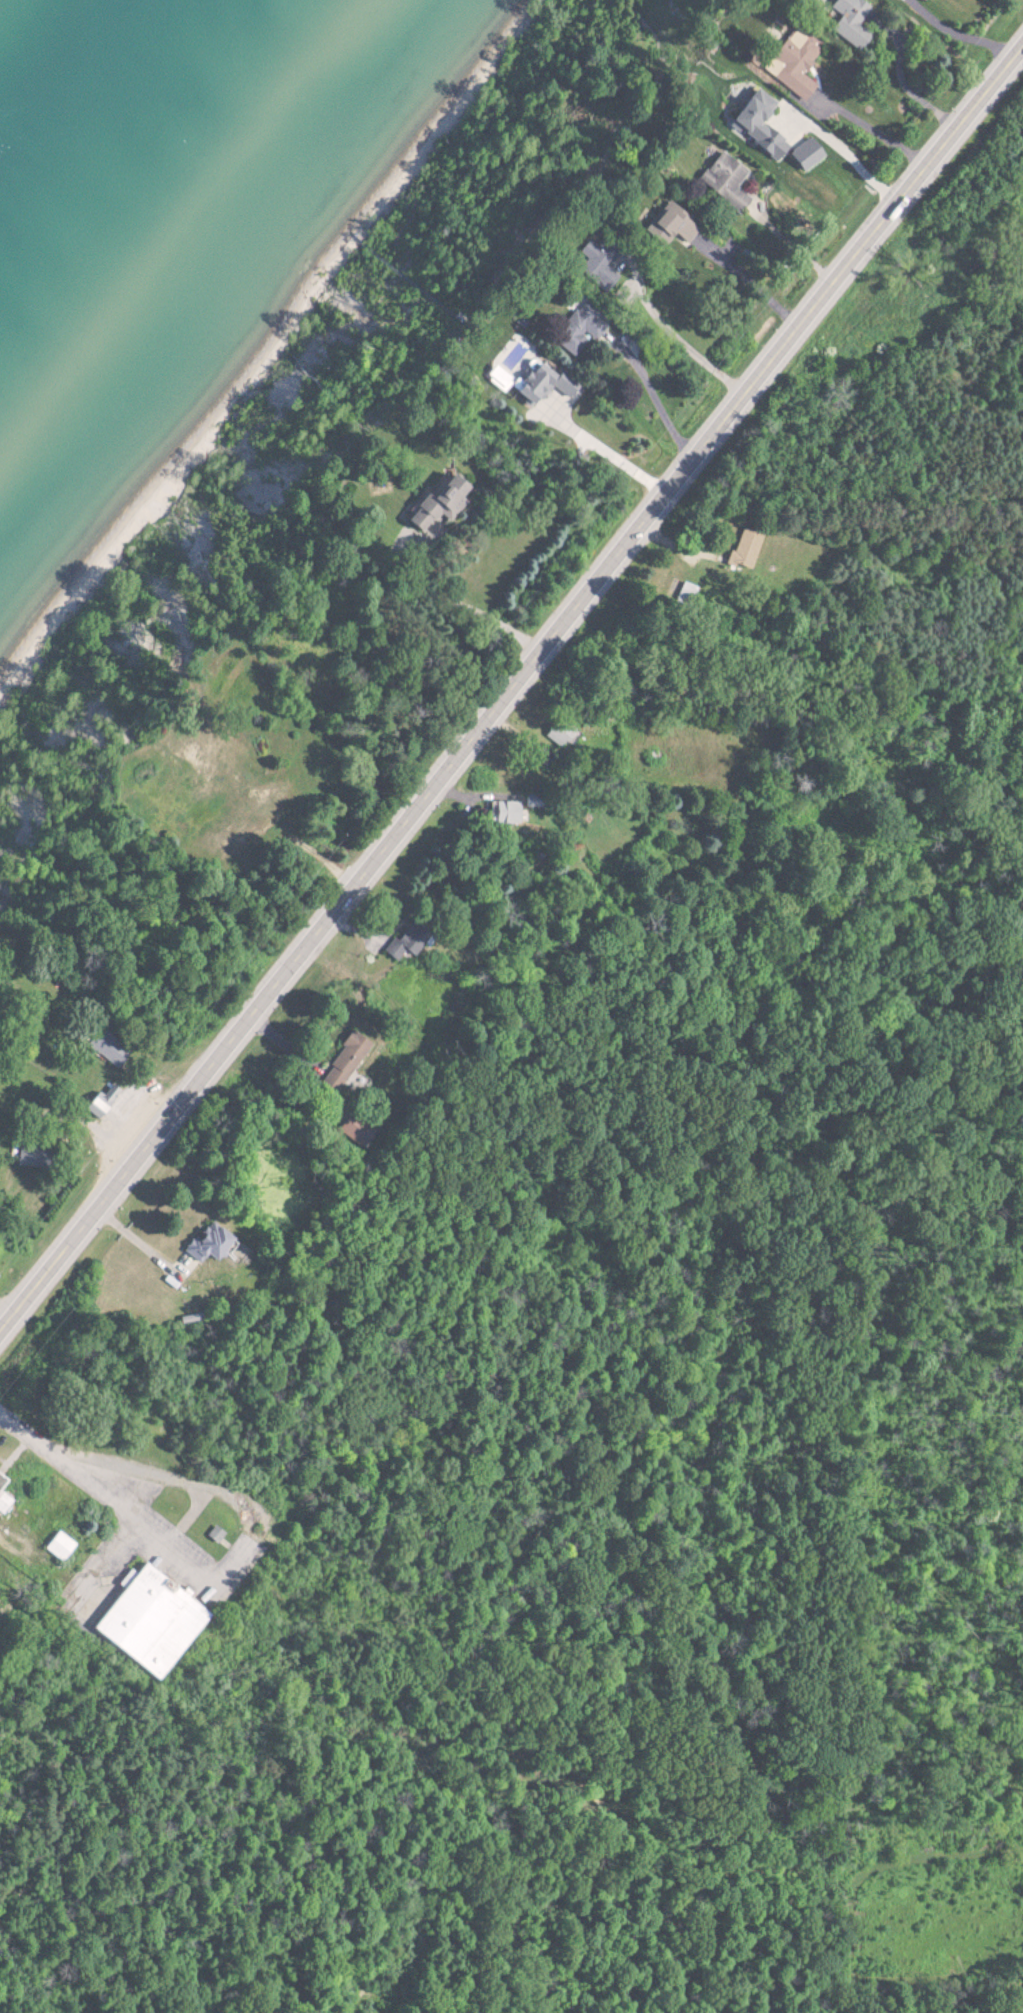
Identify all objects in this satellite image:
building: (849, 21)
road: (966, 32)
building: (792, 64)
building: (753, 122)
road: (852, 150)
building: (802, 155)
building: (723, 181)
building: (666, 226)
road: (800, 242)
building: (593, 264)
road: (747, 282)
building: (575, 329)
road: (693, 345)
building: (495, 378)
building: (527, 383)
building: (558, 384)
road: (660, 399)
road: (614, 454)
building: (432, 504)
building: (742, 551)
building: (686, 595)
road: (510, 691)
building: (556, 731)
building: (502, 812)
building: (400, 946)
building: (112, 1049)
building: (347, 1059)
building: (35, 1156)
building: (211, 1243)
road: (139, 1244)
road: (6, 1316)
road: (24, 1431)
building: (5, 1493)
building: (218, 1534)
building: (62, 1546)
road: (242, 1549)
building: (151, 1620)

